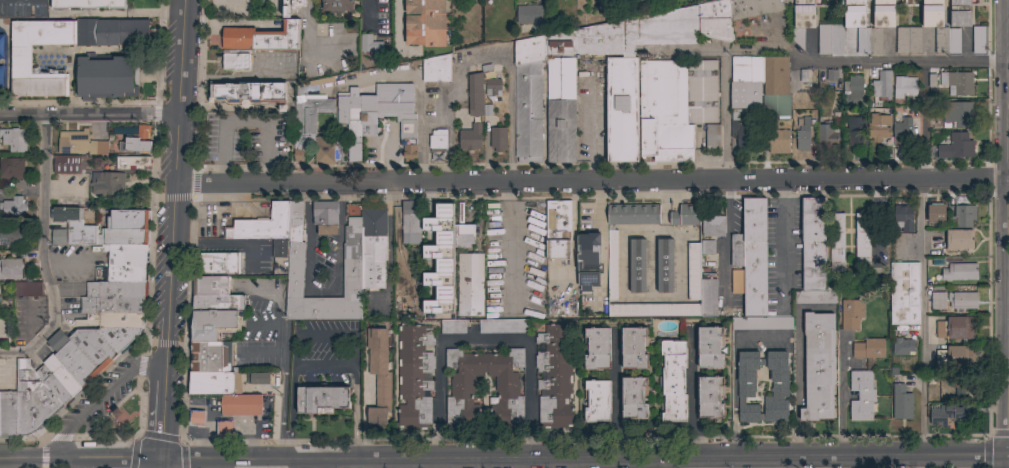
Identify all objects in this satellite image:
building: (88, 4)
building: (337, 5)
building: (291, 6)
road: (362, 13)
building: (960, 13)
building: (528, 14)
building: (733, 15)
building: (802, 20)
building: (854, 20)
building: (425, 23)
road: (399, 26)
building: (940, 28)
building: (261, 38)
road: (309, 38)
building: (830, 40)
building: (978, 40)
building: (908, 41)
building: (368, 45)
road: (486, 54)
road: (181, 57)
building: (21, 58)
building: (233, 59)
road: (821, 62)
building: (436, 70)
building: (607, 76)
building: (107, 77)
building: (829, 78)
road: (419, 82)
building: (746, 82)
building: (958, 83)
building: (882, 84)
building: (904, 86)
building: (492, 87)
building: (775, 87)
building: (854, 89)
building: (475, 94)
building: (249, 95)
building: (527, 99)
building: (675, 106)
road: (725, 114)
building: (958, 114)
road: (89, 115)
building: (356, 118)
road: (922, 119)
building: (307, 120)
road: (242, 124)
building: (879, 127)
building: (856, 131)
building: (903, 131)
building: (803, 136)
building: (826, 136)
building: (470, 137)
building: (712, 137)
building: (744, 137)
building: (498, 138)
building: (14, 139)
building: (139, 141)
building: (437, 141)
building: (777, 141)
building: (81, 144)
building: (956, 146)
road: (177, 149)
building: (327, 150)
building: (132, 162)
building: (67, 164)
building: (11, 169)
road: (592, 180)
building: (108, 183)
building: (13, 207)
building: (685, 215)
building: (936, 215)
building: (962, 217)
building: (325, 218)
building: (904, 218)
building: (411, 222)
building: (263, 225)
road: (1003, 225)
building: (713, 226)
building: (71, 227)
building: (126, 228)
building: (557, 229)
building: (463, 236)
building: (11, 237)
road: (725, 238)
building: (959, 239)
building: (862, 240)
road: (782, 242)
building: (836, 242)
building: (813, 244)
building: (279, 247)
building: (707, 247)
building: (373, 249)
building: (737, 250)
road: (44, 254)
building: (755, 256)
building: (588, 260)
building: (440, 261)
building: (124, 262)
building: (216, 264)
building: (612, 265)
building: (352, 266)
building: (637, 266)
building: (665, 266)
building: (11, 269)
building: (693, 271)
building: (960, 271)
road: (171, 274)
building: (737, 280)
building: (210, 285)
building: (470, 285)
building: (27, 288)
building: (115, 290)
road: (324, 291)
building: (904, 294)
building: (815, 297)
building: (708, 298)
building: (938, 301)
building: (962, 301)
building: (218, 303)
building: (112, 305)
building: (654, 310)
building: (851, 314)
road: (922, 315)
building: (114, 319)
building: (80, 322)
building: (761, 323)
building: (213, 324)
building: (453, 326)
building: (503, 326)
building: (956, 328)
building: (119, 335)
road: (482, 342)
building: (903, 346)
building: (93, 347)
building: (710, 347)
building: (634, 348)
building: (597, 349)
building: (868, 349)
building: (211, 356)
building: (956, 357)
building: (72, 359)
building: (52, 363)
road: (797, 363)
building: (818, 366)
building: (43, 372)
building: (26, 376)
building: (414, 376)
building: (554, 376)
building: (378, 377)
building: (258, 378)
building: (932, 378)
building: (67, 380)
building: (673, 382)
building: (213, 383)
building: (462, 385)
building: (745, 385)
building: (58, 388)
building: (961, 388)
road: (615, 392)
road: (690, 395)
building: (861, 396)
building: (710, 397)
building: (634, 398)
building: (322, 399)
road: (528, 400)
road: (95, 401)
road: (435, 401)
building: (597, 401)
building: (902, 403)
gas station: (241, 405)
building: (239, 406)
building: (35, 408)
building: (8, 413)
road: (164, 413)
building: (952, 414)
building: (197, 417)
building: (226, 428)
road: (94, 447)
road: (585, 458)
road: (1004, 460)
road: (16, 461)
road: (97, 461)
road: (399, 463)
road: (427, 463)
road: (484, 463)
road: (517, 463)
road: (706, 463)
road: (160, 464)
road: (311, 464)

